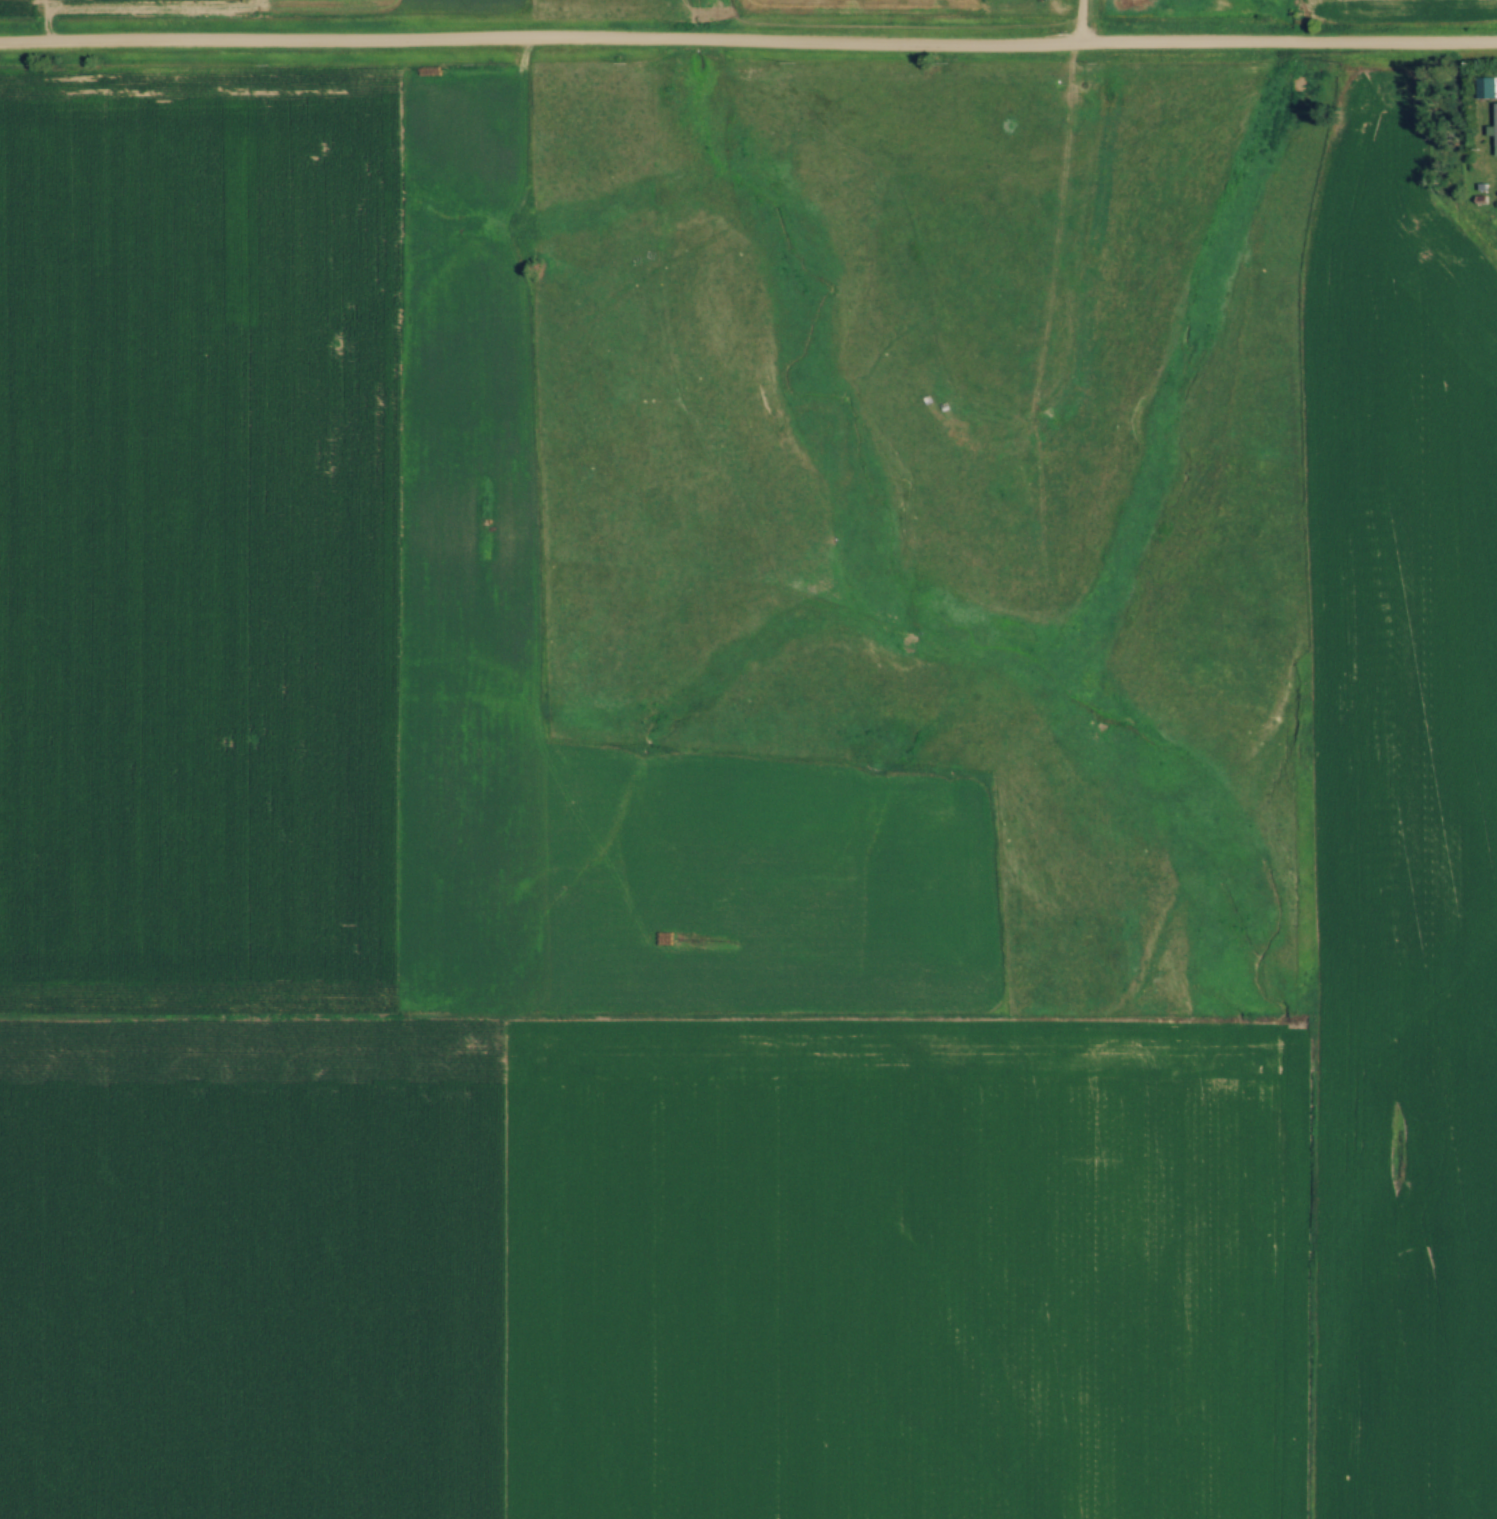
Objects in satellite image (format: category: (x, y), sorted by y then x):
road: (1082, 24)
road: (748, 49)
building: (1487, 92)
building: (1495, 124)
crop: (248, 1267)

